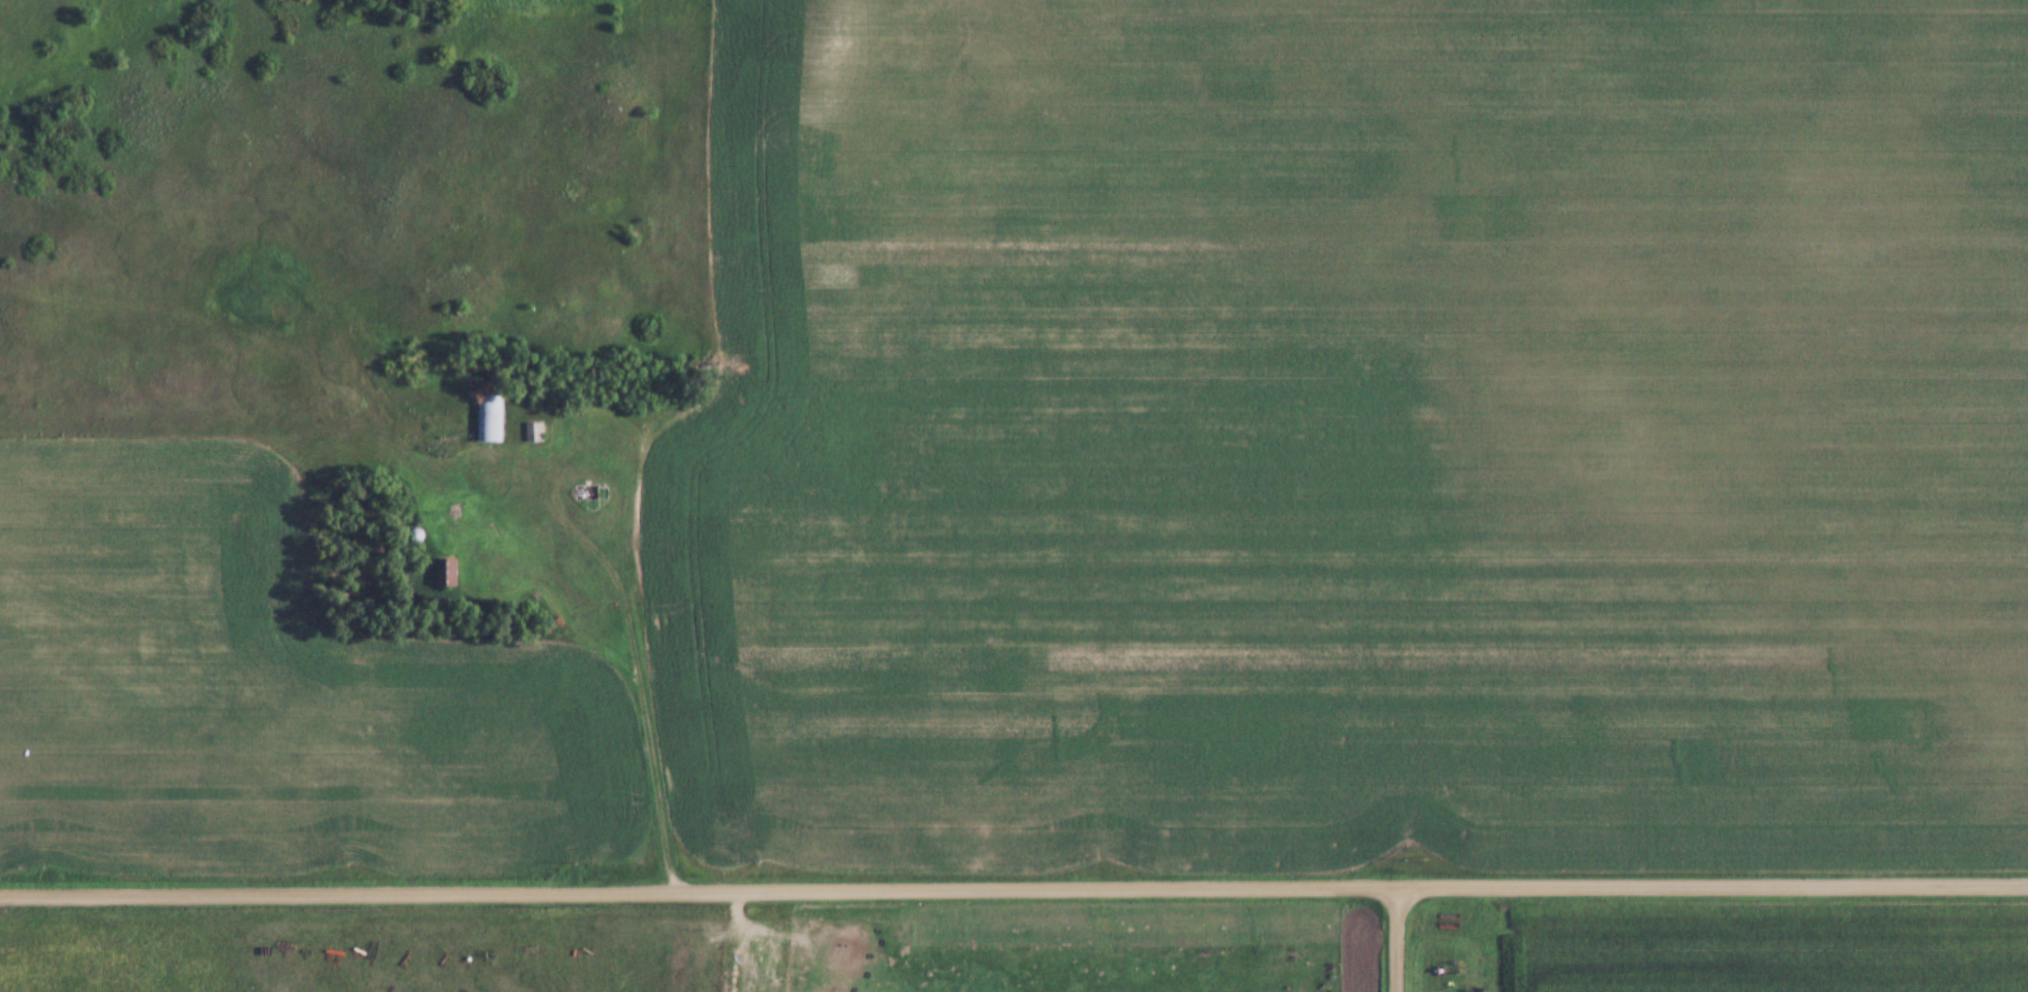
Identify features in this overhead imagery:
building: (494, 403)
building: (539, 420)
road: (650, 430)
building: (534, 434)
road: (581, 527)
building: (452, 557)
building: (446, 575)
road: (1013, 885)
road: (1394, 938)

